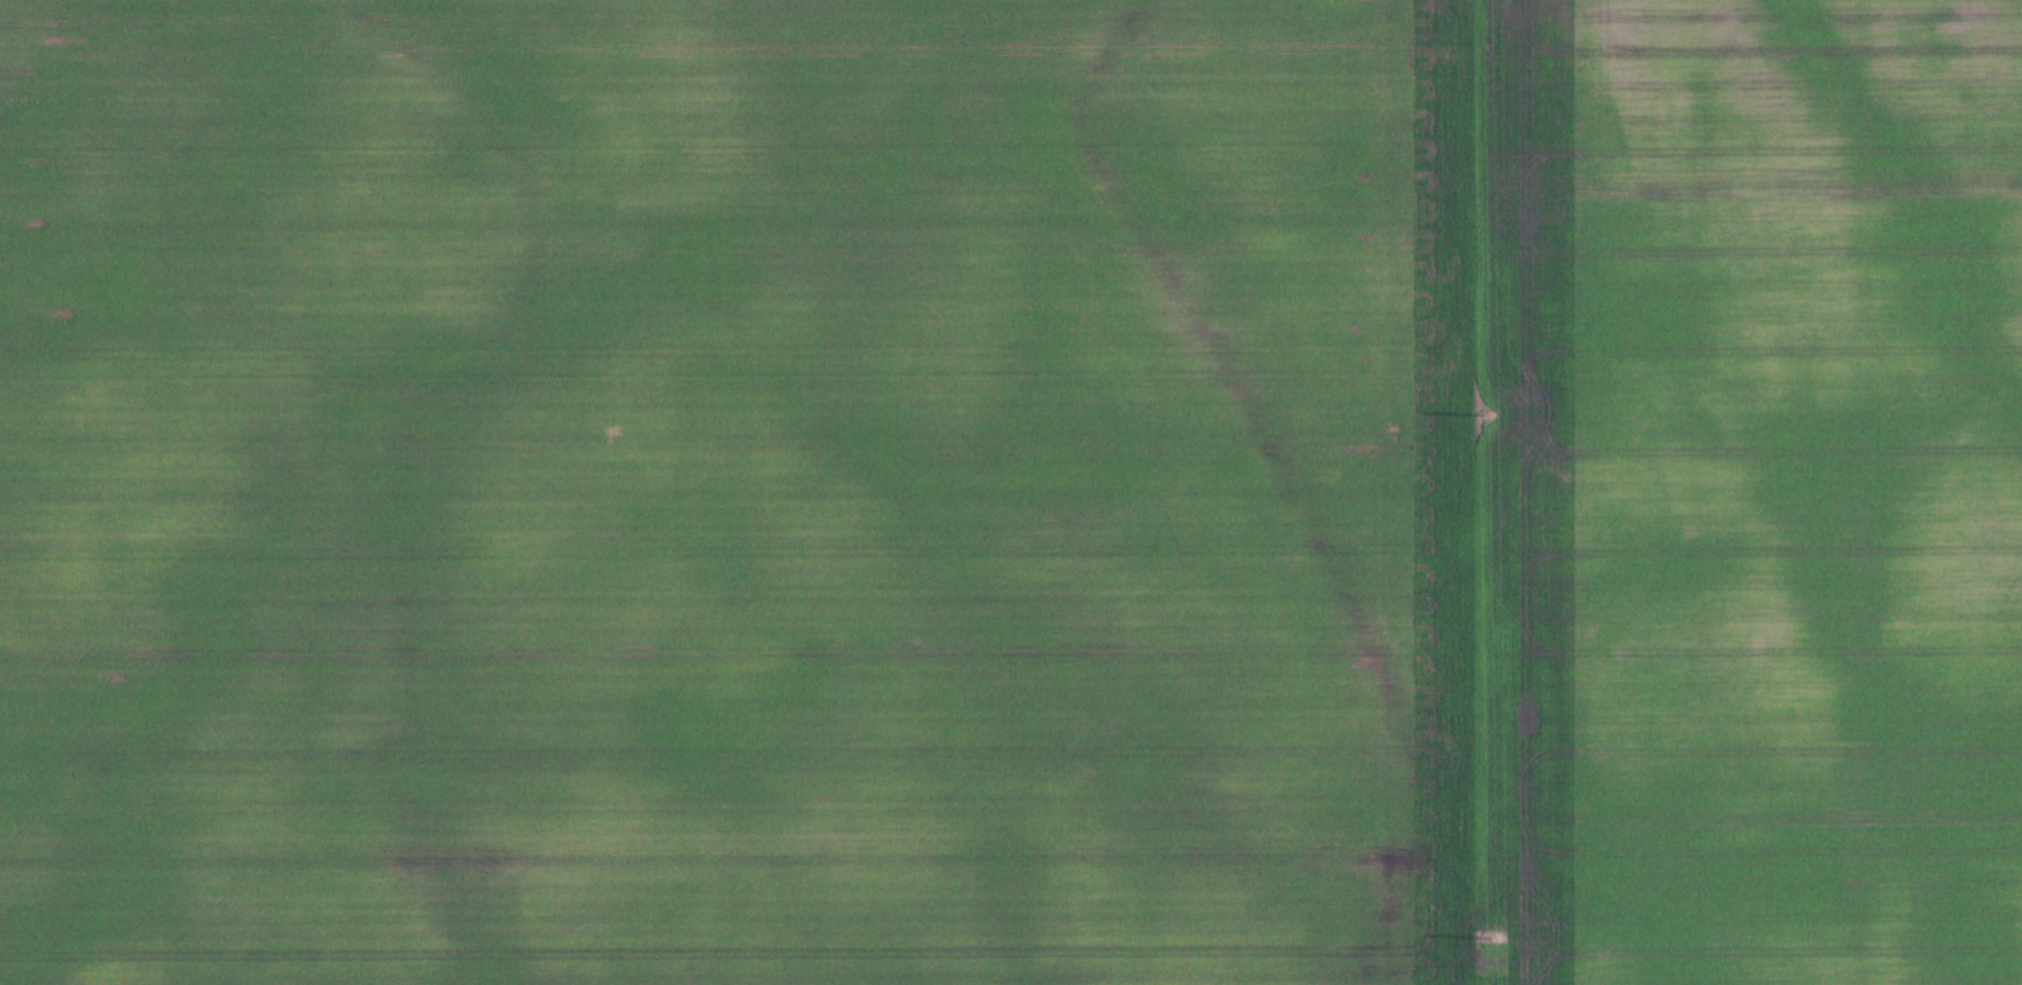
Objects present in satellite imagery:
power tower: (1491, 414)

